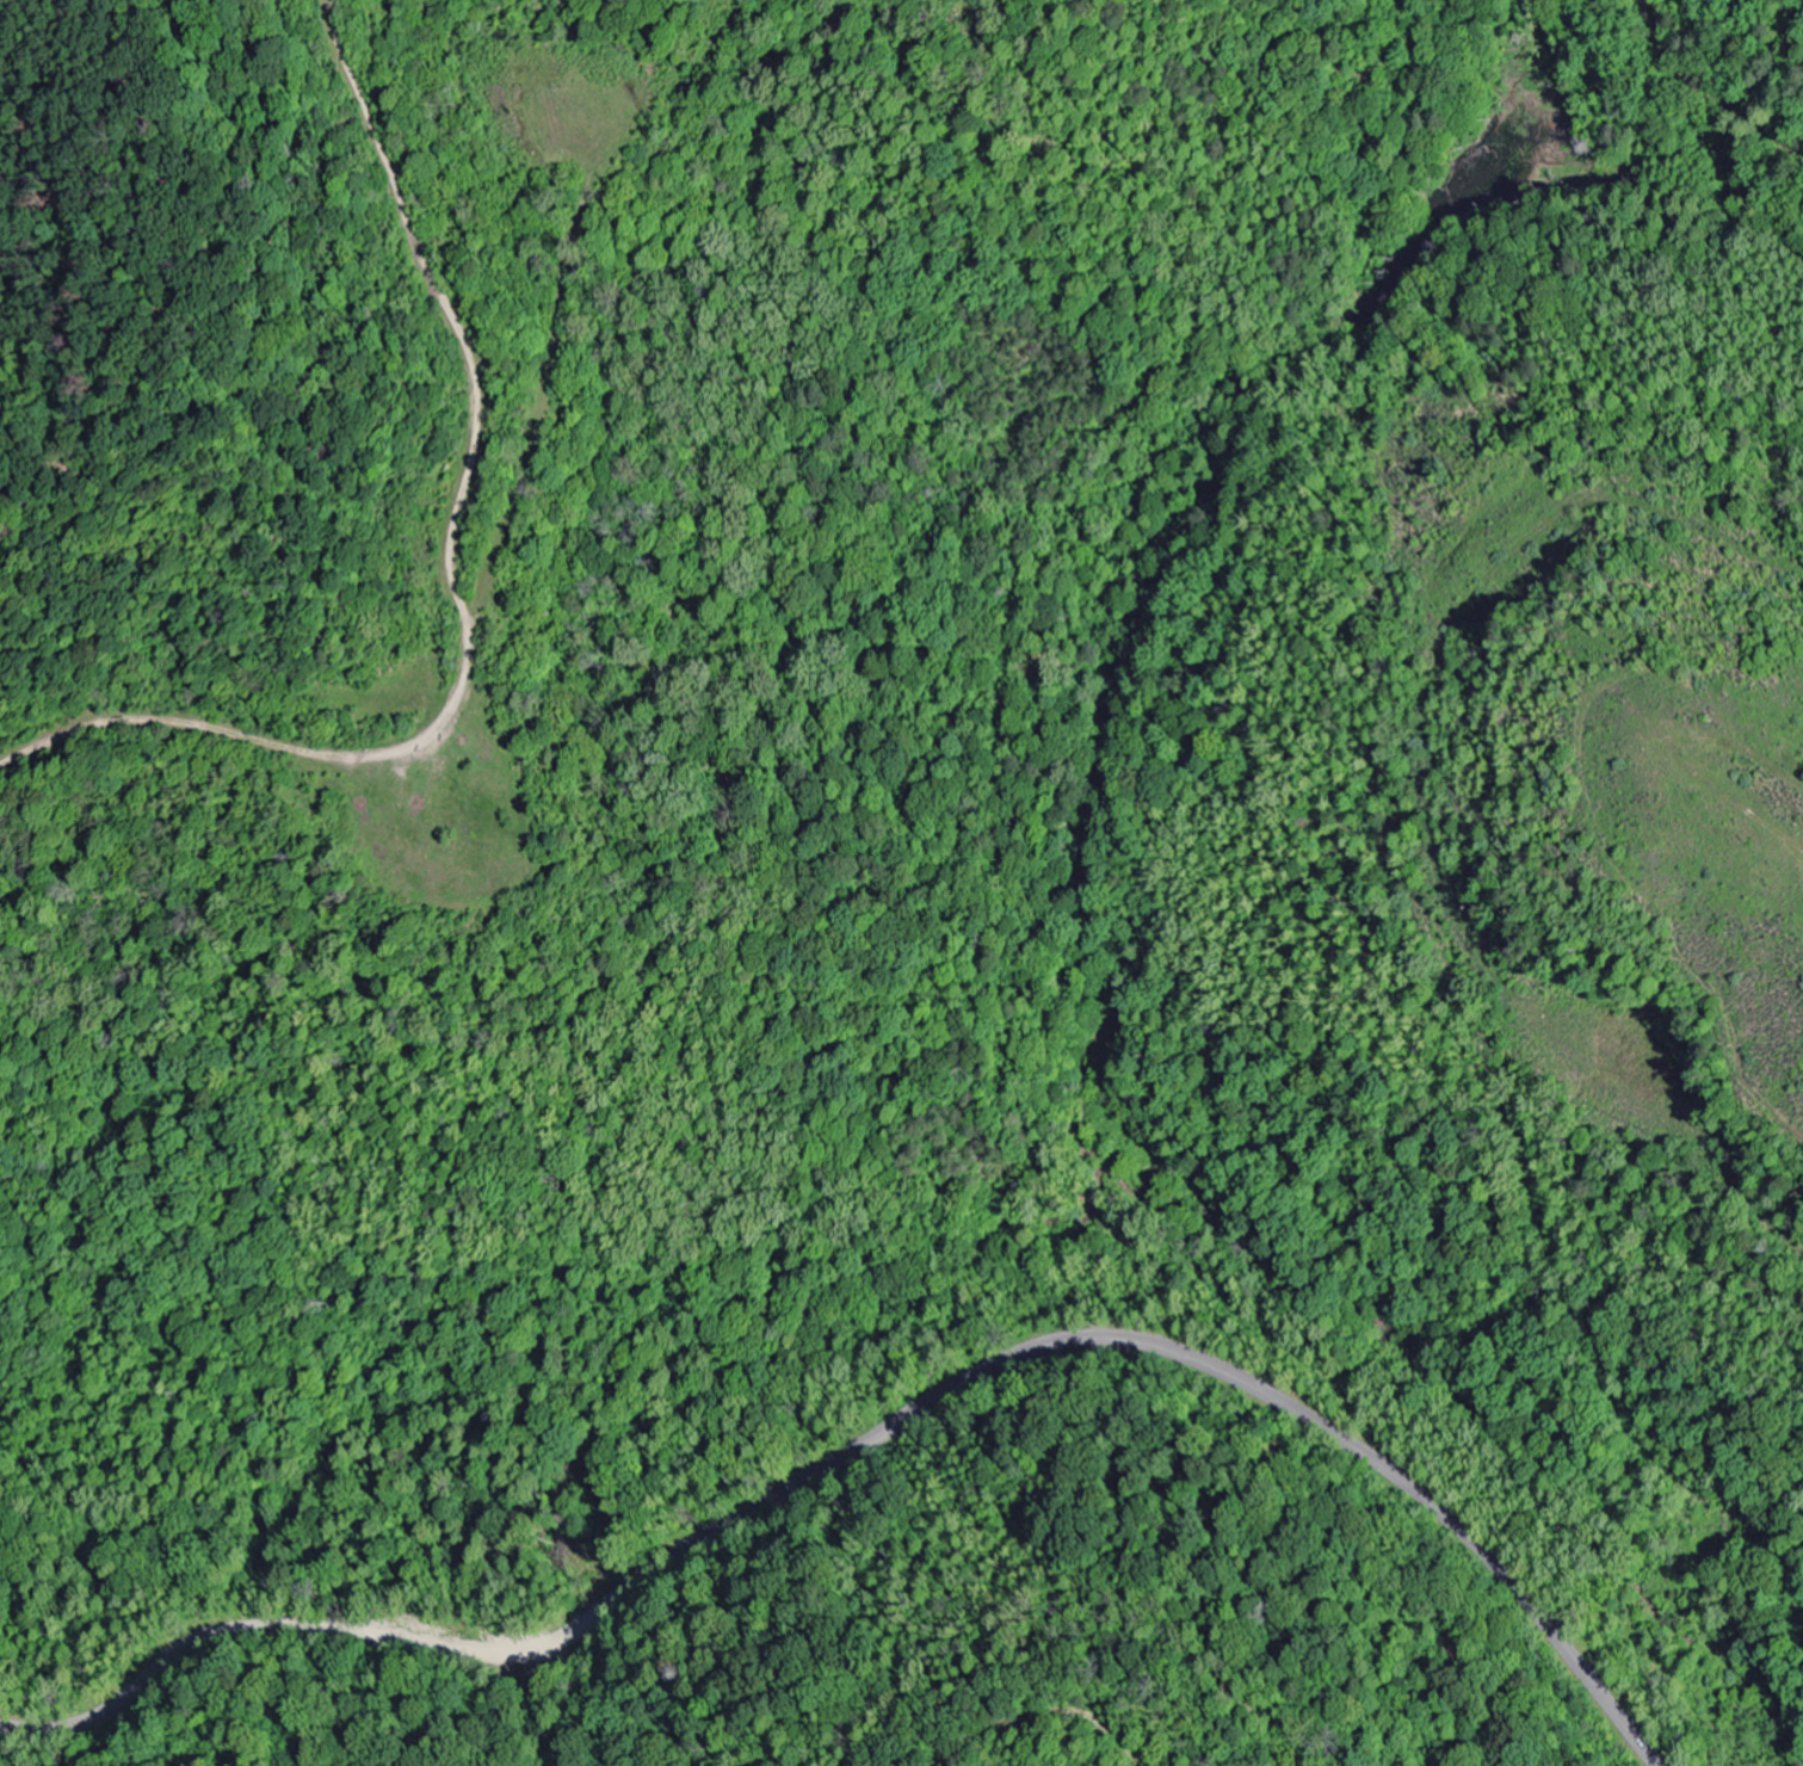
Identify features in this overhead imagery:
road: (876, 1432)

